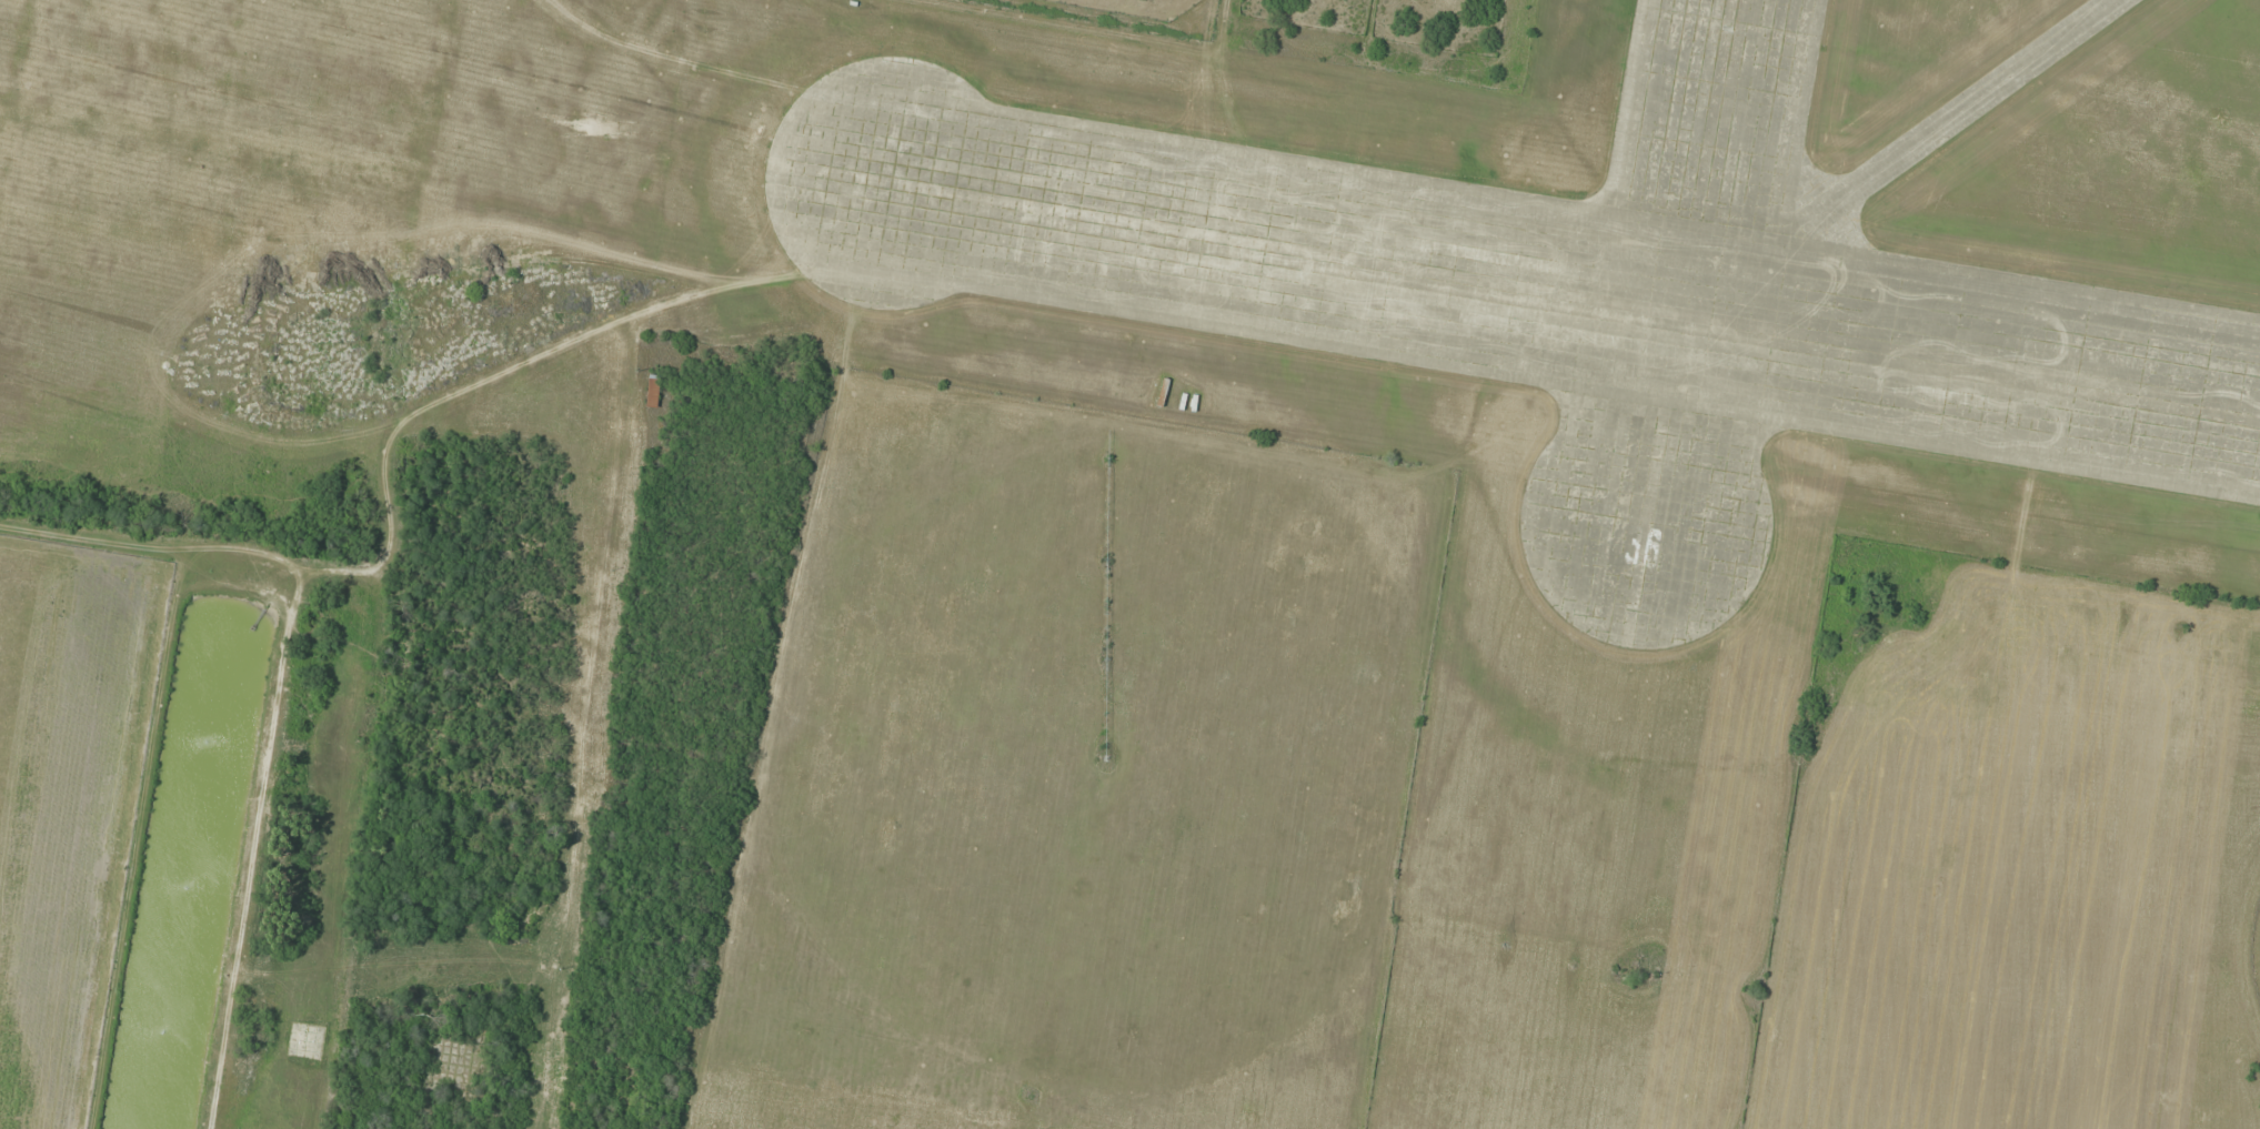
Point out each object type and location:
airport taxiway: (1904, 160)
airport runway: (1690, 271)
airport runway: (1573, 302)
airport: (1558, 381)
road: (341, 697)
wastewater plant: (192, 863)

